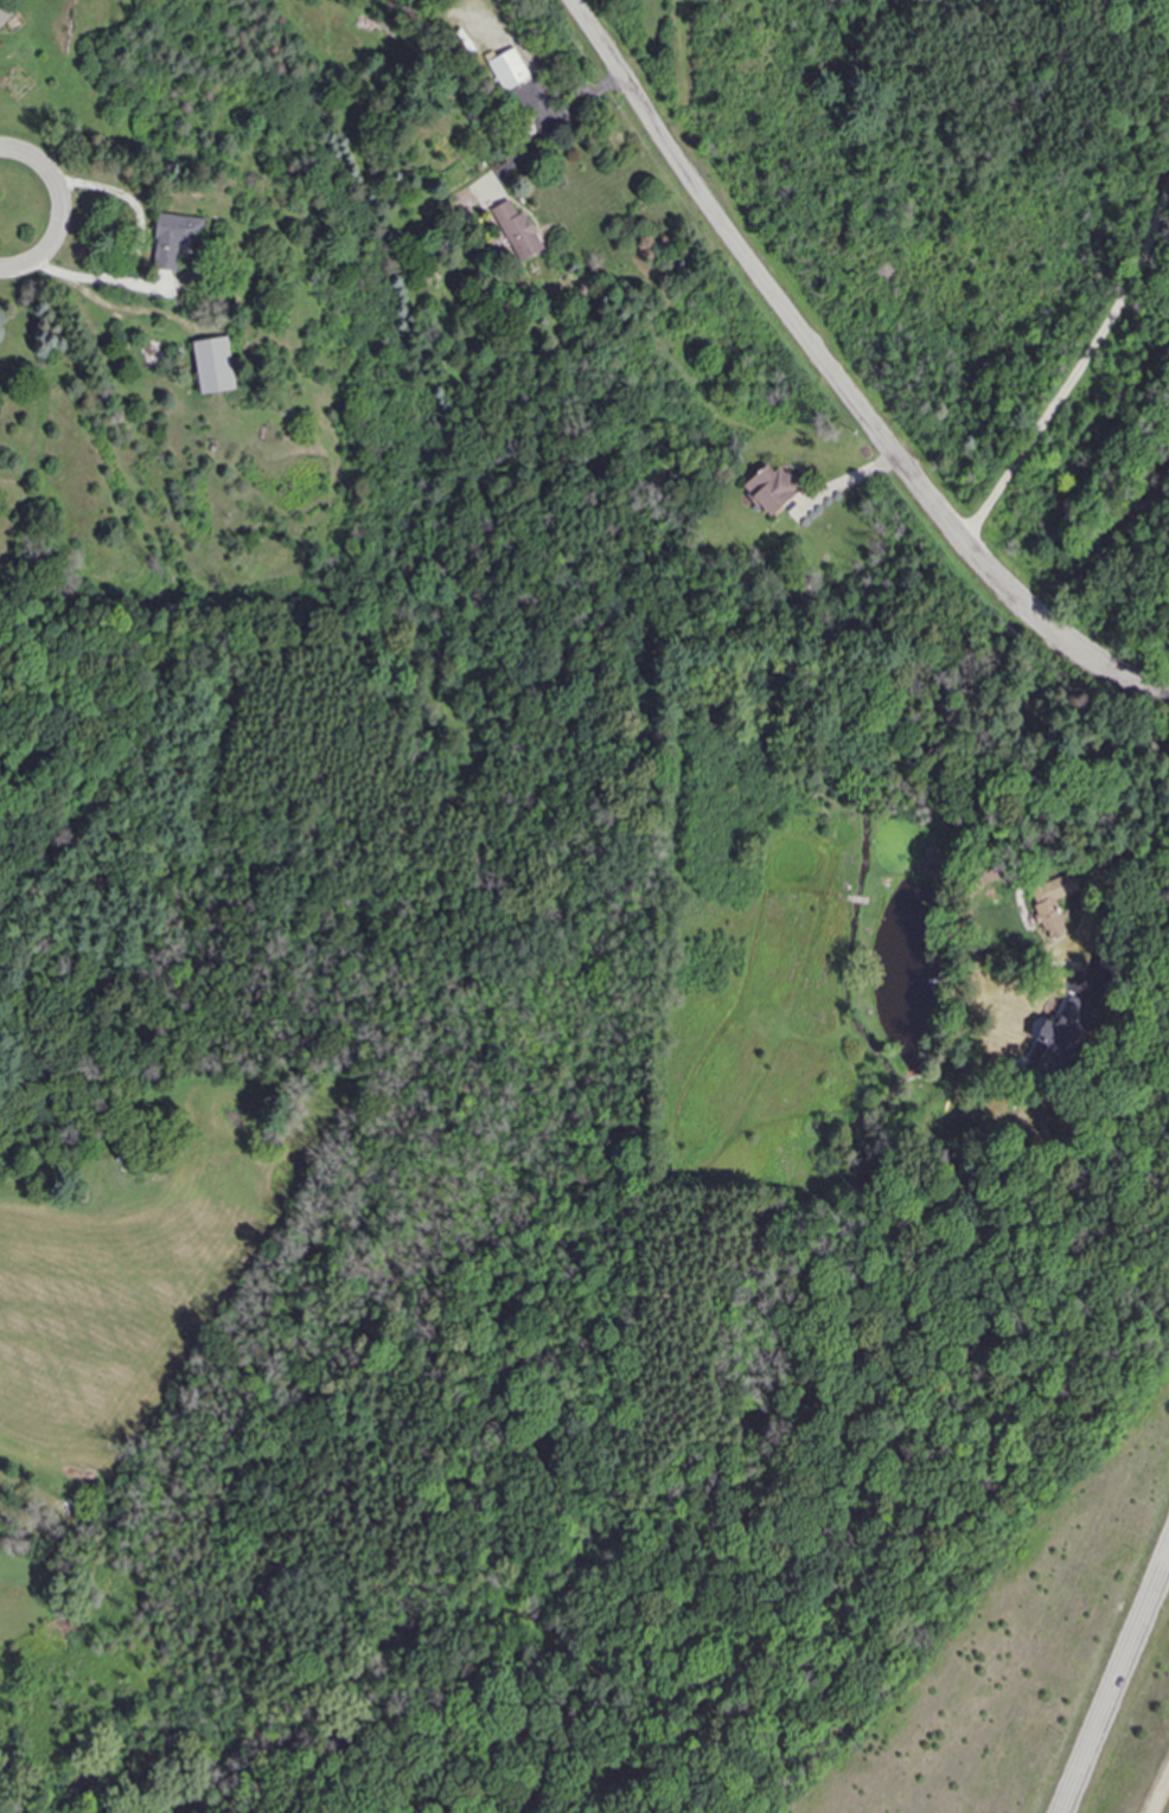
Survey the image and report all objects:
building: (4, 14)
building: (509, 69)
road: (566, 134)
road: (4, 212)
road: (4, 217)
road: (4, 220)
building: (518, 231)
building: (174, 238)
road: (1079, 364)
building: (213, 365)
road: (836, 379)
building: (772, 487)
road: (1135, 787)
building: (1053, 904)
building: (1063, 1036)
river: (747, 1439)
quarry: (971, 1626)
road: (1116, 1683)

